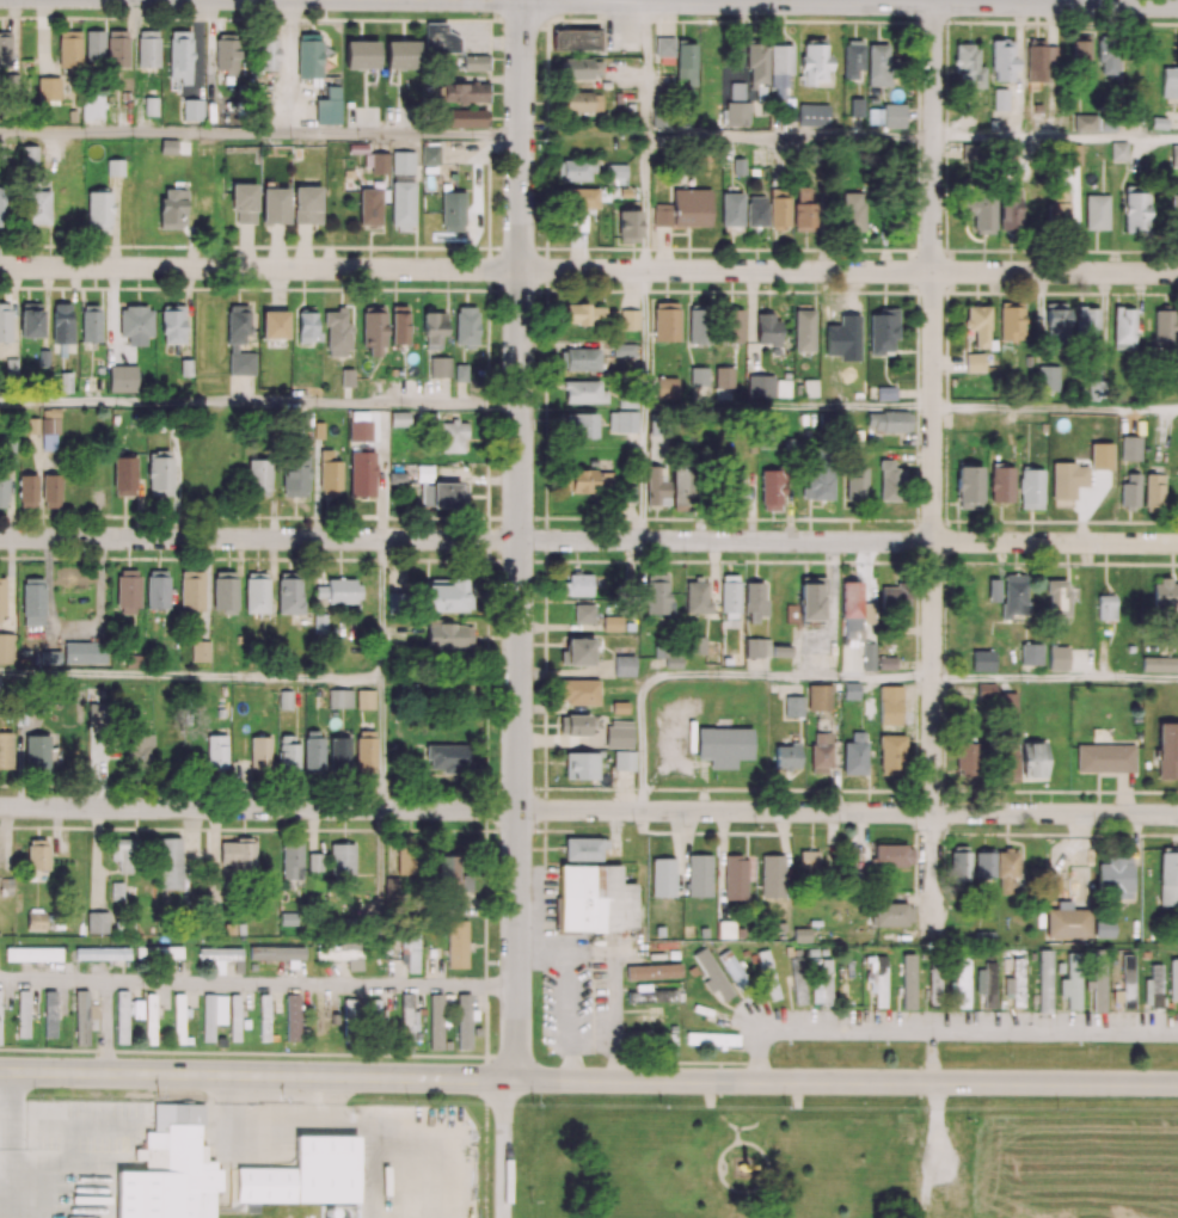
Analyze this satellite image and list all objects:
road: (628, 0)
road: (644, 0)
road: (839, 1)
road: (622, 14)
road: (624, 29)
street lamp: (915, 30)
building: (440, 39)
building: (577, 39)
building: (472, 63)
road: (644, 72)
building: (464, 94)
building: (462, 119)
road: (260, 133)
road: (1055, 137)
road: (787, 140)
road: (644, 207)
road: (588, 270)
road: (645, 340)
road: (259, 404)
road: (789, 408)
road: (1055, 408)
road: (933, 470)
road: (645, 475)
road: (384, 481)
road: (519, 533)
road: (589, 541)
road: (382, 609)
road: (723, 675)
road: (191, 676)
road: (1055, 677)
road: (382, 745)
road: (588, 811)
road: (258, 983)
road: (104, 1026)
road: (945, 1031)
road: (258, 1053)
road: (588, 1076)
road: (229, 1102)
road: (10, 1121)
road: (501, 1139)
park: (742, 1155)

